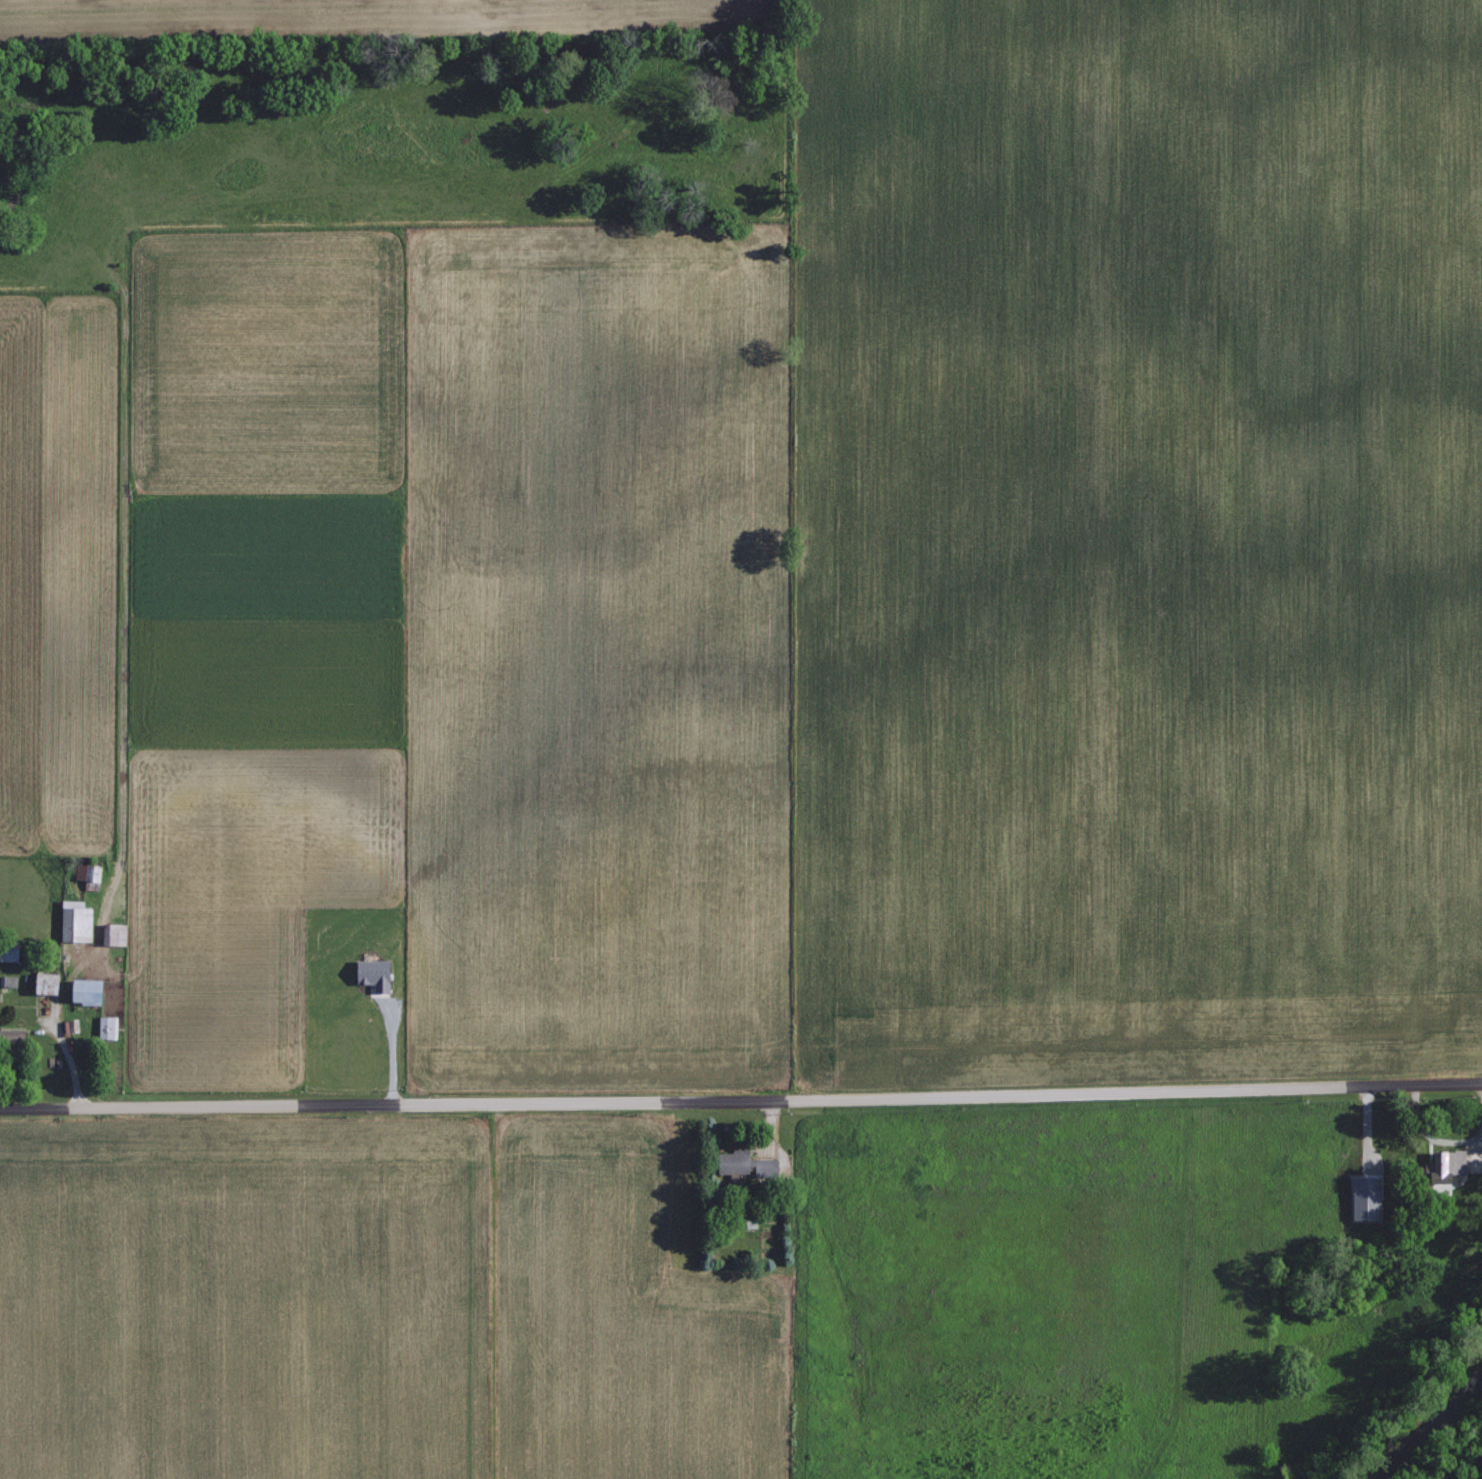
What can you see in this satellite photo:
building: (73, 920)
building: (7, 951)
building: (373, 974)
building: (8, 979)
building: (44, 982)
building: (83, 990)
building: (106, 1026)
road: (741, 1094)
building: (743, 1162)
building: (1443, 1164)
building: (1363, 1196)
river: (1430, 1432)

